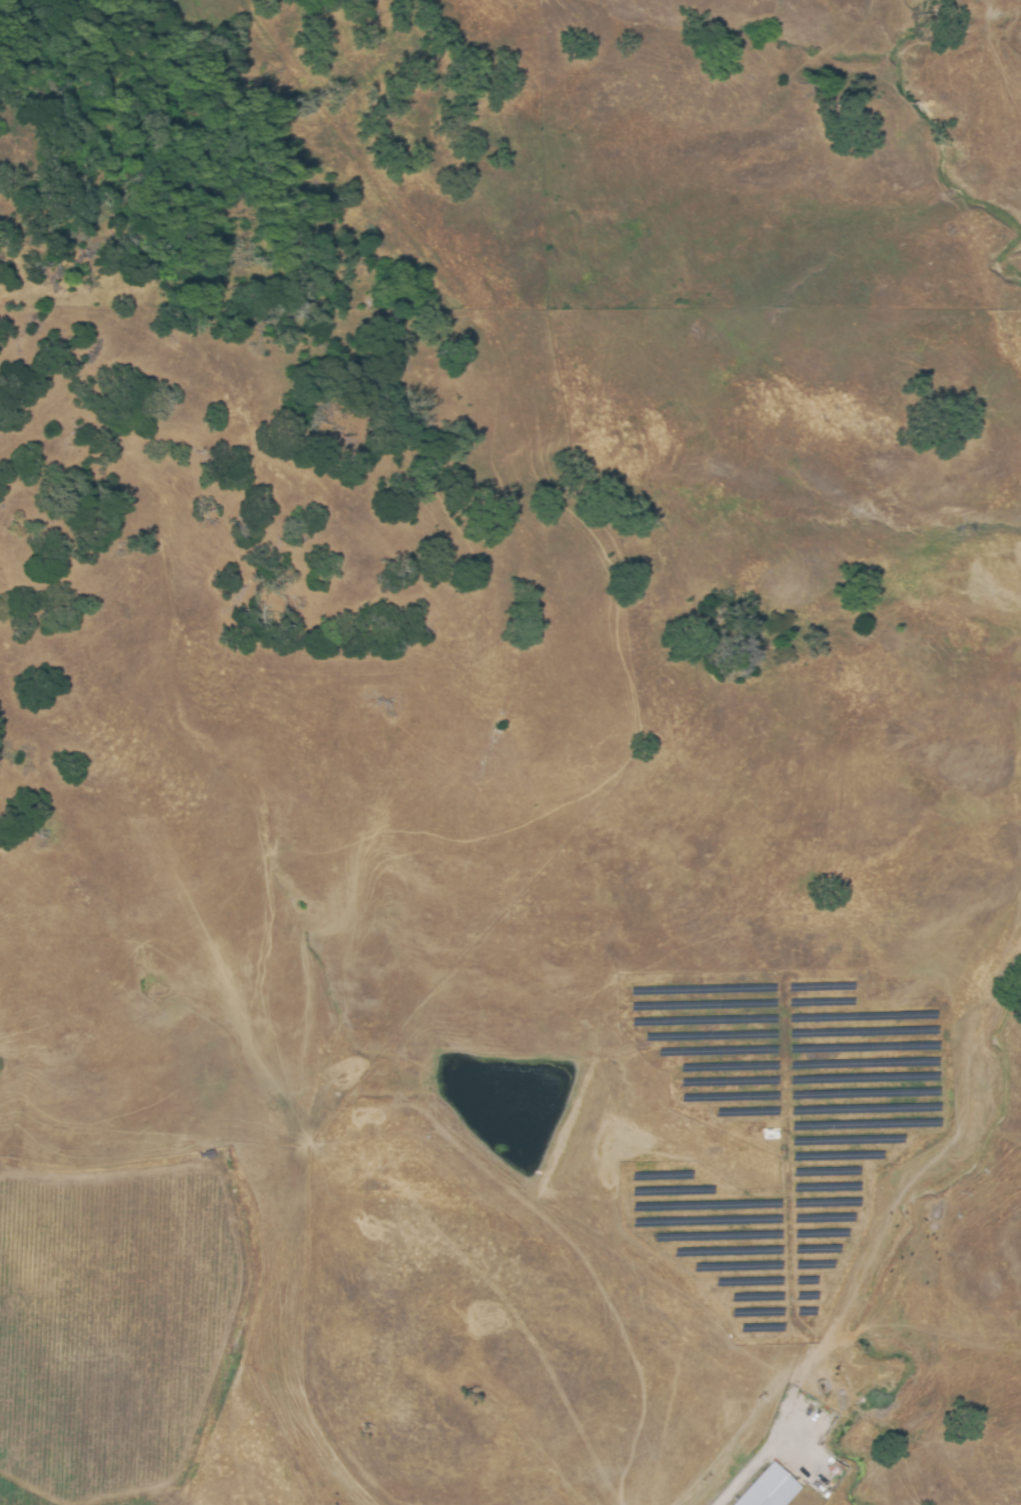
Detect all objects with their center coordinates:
road: (757, 1462)
building: (770, 1489)

